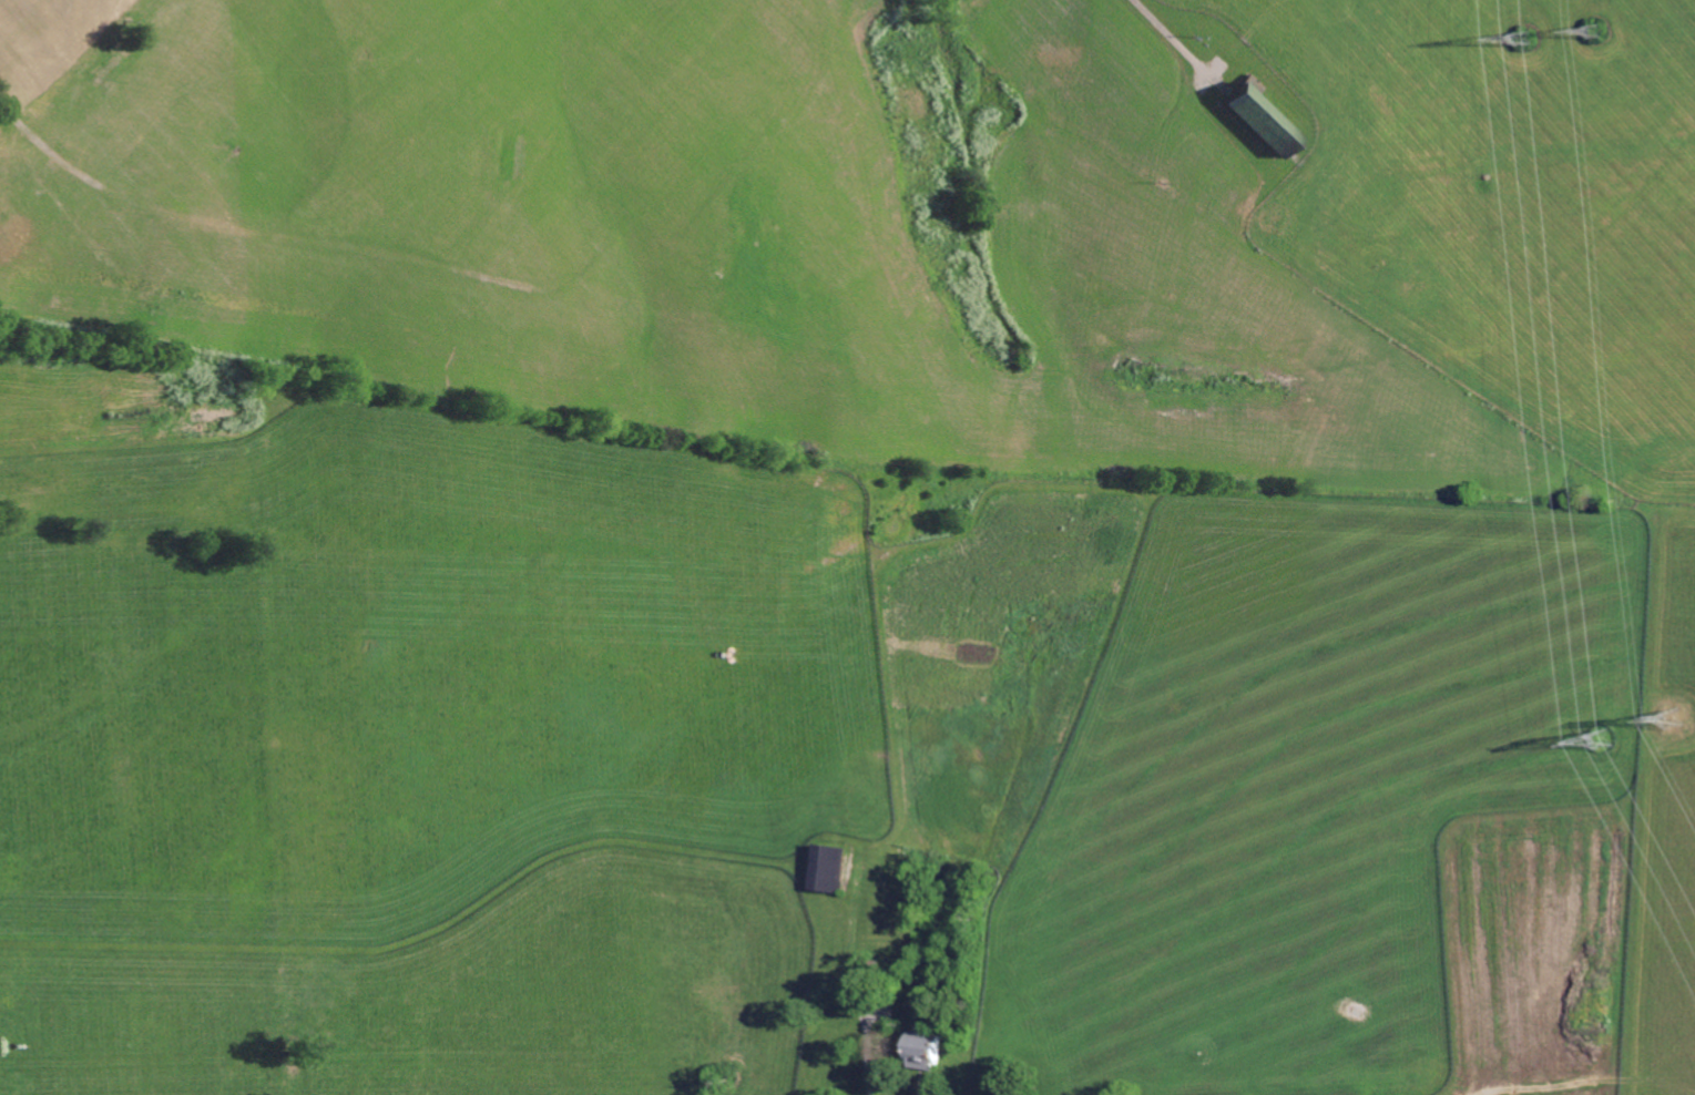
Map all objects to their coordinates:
road: (1163, 29)
power tower: (1600, 33)
power tower: (1536, 38)
power tower: (1677, 715)
power tower: (1606, 736)
building: (834, 868)
road: (860, 1002)
building: (932, 1047)

